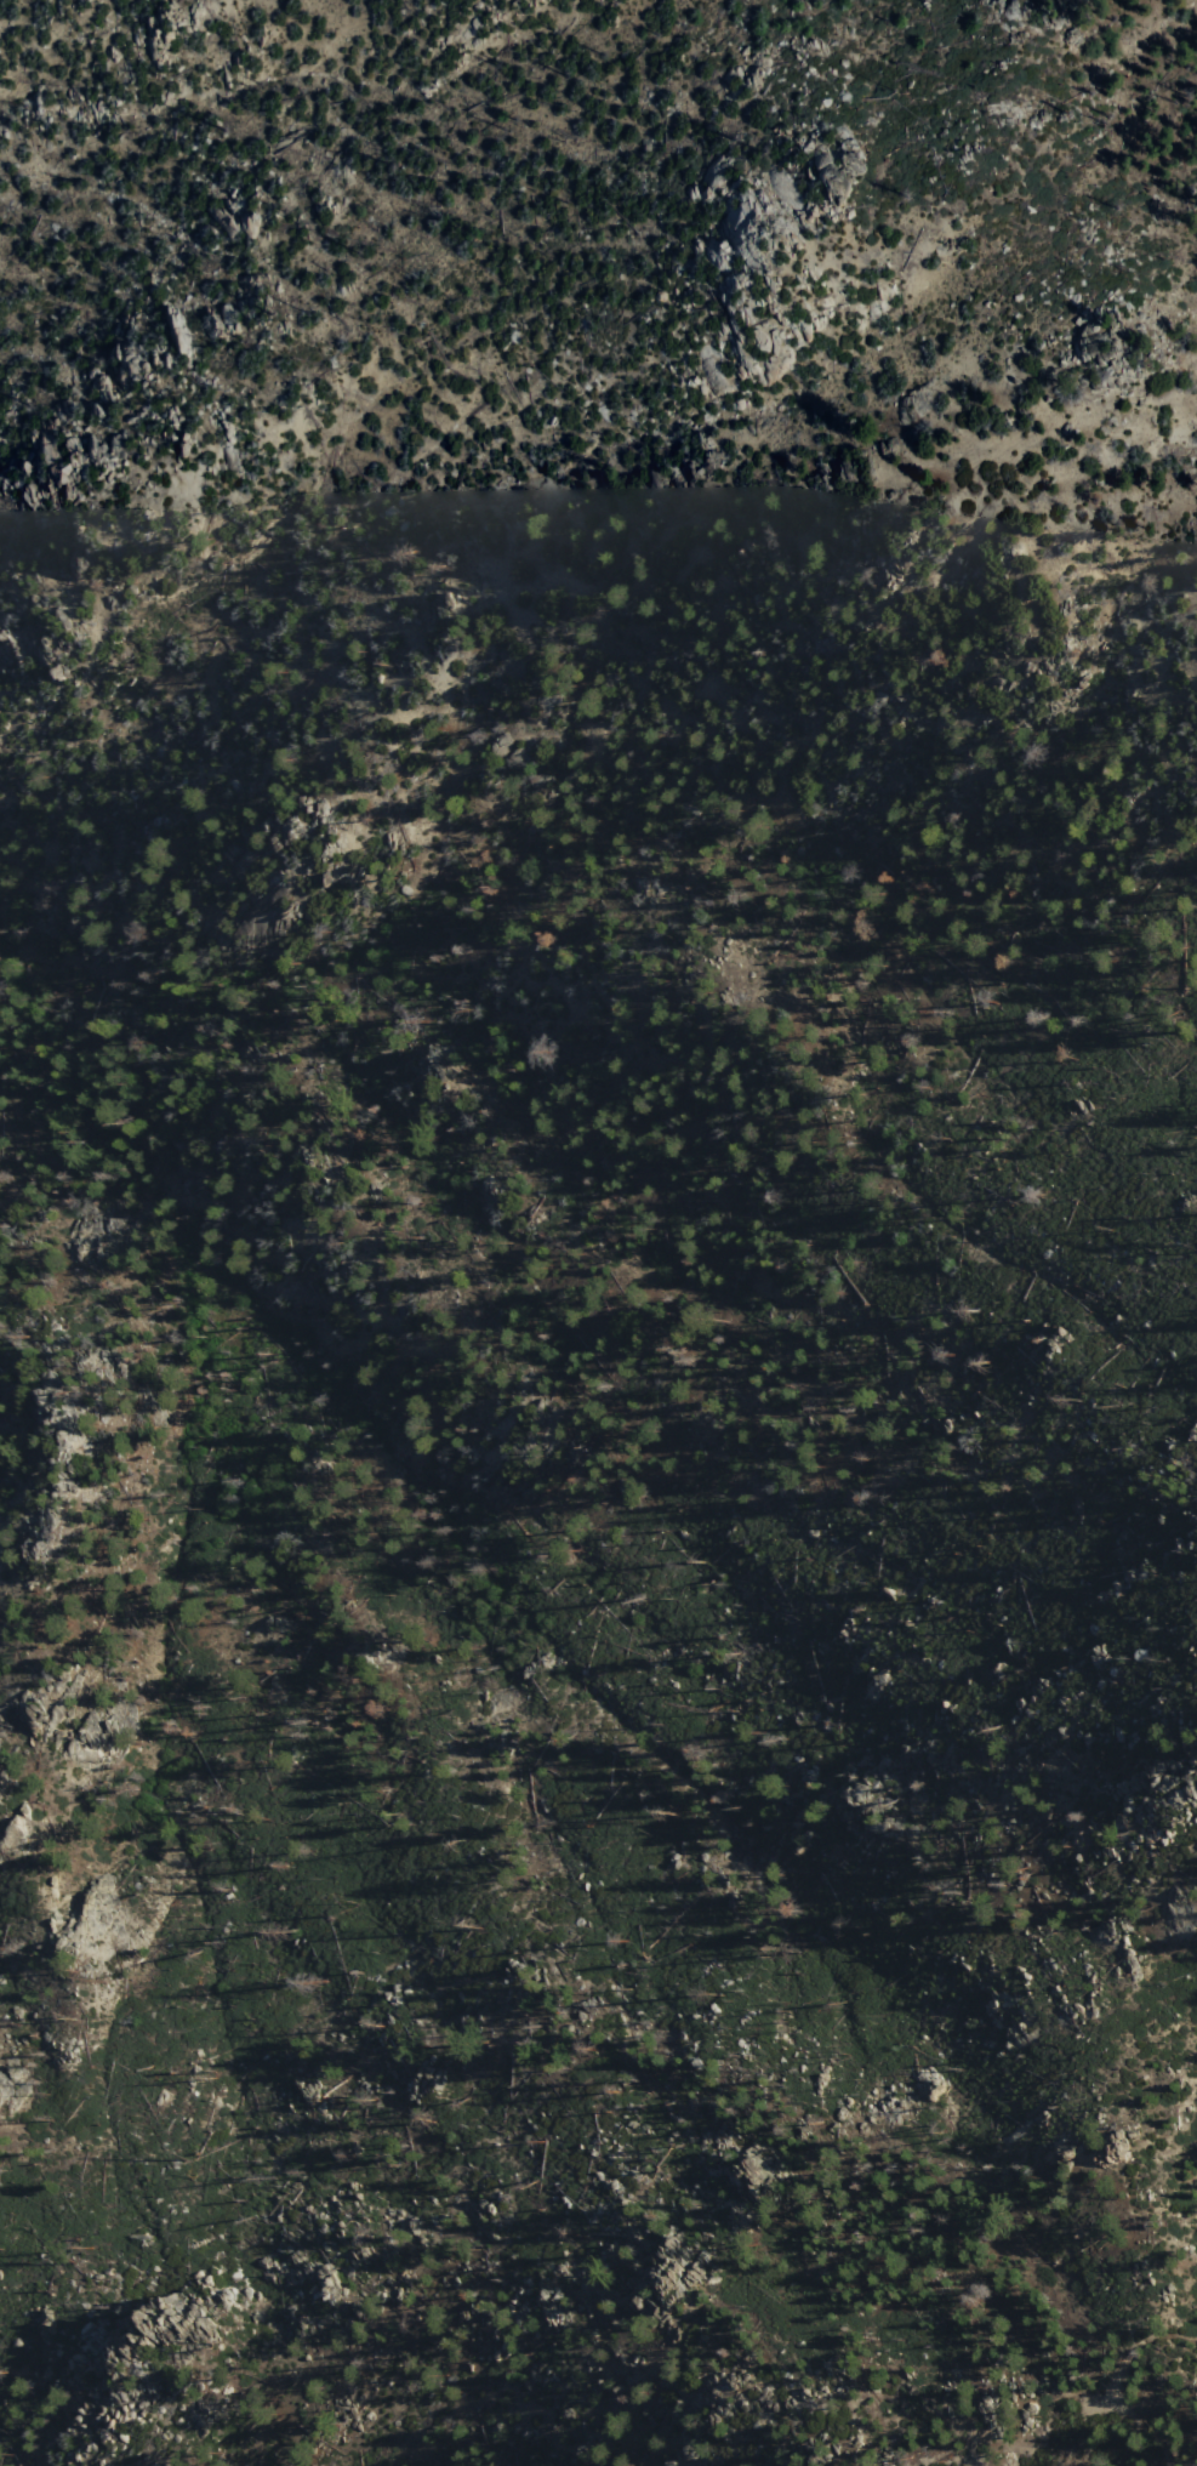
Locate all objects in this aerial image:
road: (1118, 2385)

